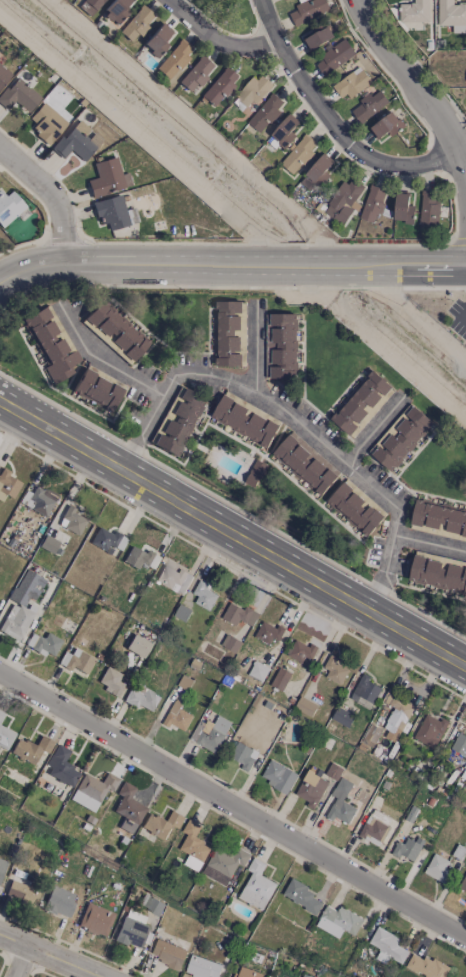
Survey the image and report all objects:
building: (89, 5)
building: (308, 9)
building: (115, 10)
building: (414, 11)
building: (452, 14)
building: (136, 23)
building: (318, 37)
building: (156, 40)
road: (211, 43)
building: (335, 55)
building: (174, 59)
building: (196, 74)
building: (3, 75)
building: (351, 83)
building: (219, 86)
road: (406, 91)
building: (252, 93)
building: (18, 95)
building: (369, 105)
building: (265, 112)
road: (336, 120)
building: (46, 123)
building: (386, 125)
building: (284, 130)
building: (77, 141)
building: (298, 153)
building: (315, 172)
building: (107, 177)
road: (52, 195)
building: (344, 198)
building: (373, 202)
building: (11, 208)
building: (403, 208)
building: (429, 209)
building: (111, 212)
building: (131, 215)
road: (230, 264)
road: (416, 319)
parking lot: (456, 324)
building: (114, 331)
building: (227, 332)
building: (51, 343)
building: (280, 344)
road: (384, 346)
road: (254, 349)
road: (103, 360)
building: (98, 388)
building: (362, 403)
building: (245, 418)
road: (296, 419)
building: (177, 421)
road: (372, 431)
building: (400, 436)
building: (305, 462)
building: (255, 472)
building: (8, 484)
building: (38, 499)
building: (356, 506)
building: (439, 517)
building: (71, 520)
road: (233, 533)
building: (107, 539)
road: (429, 541)
building: (48, 543)
building: (140, 558)
building: (439, 571)
building: (173, 578)
building: (203, 594)
building: (21, 604)
building: (238, 614)
building: (268, 631)
building: (44, 643)
building: (230, 643)
building: (138, 645)
building: (300, 650)
building: (76, 661)
building: (258, 670)
building: (335, 670)
building: (280, 678)
building: (110, 681)
building: (365, 691)
building: (141, 697)
building: (305, 705)
building: (395, 714)
building: (1, 715)
building: (177, 715)
building: (342, 716)
building: (429, 729)
building: (210, 732)
building: (371, 735)
building: (5, 737)
building: (459, 745)
building: (27, 753)
building: (243, 755)
building: (61, 766)
building: (333, 770)
building: (278, 775)
building: (311, 788)
building: (92, 790)
building: (341, 802)
building: (128, 808)
road: (233, 808)
building: (161, 823)
building: (375, 826)
building: (193, 845)
building: (408, 848)
building: (224, 863)
building: (2, 866)
building: (437, 866)
building: (462, 884)
building: (256, 885)
building: (21, 893)
building: (302, 896)
building: (59, 901)
building: (151, 904)
building: (95, 919)
building: (338, 920)
building: (131, 928)
building: (387, 945)
building: (167, 953)
road: (45, 960)
building: (425, 965)
road: (23, 966)
building: (203, 967)
building: (246, 972)
building: (306, 975)
building: (275, 976)

